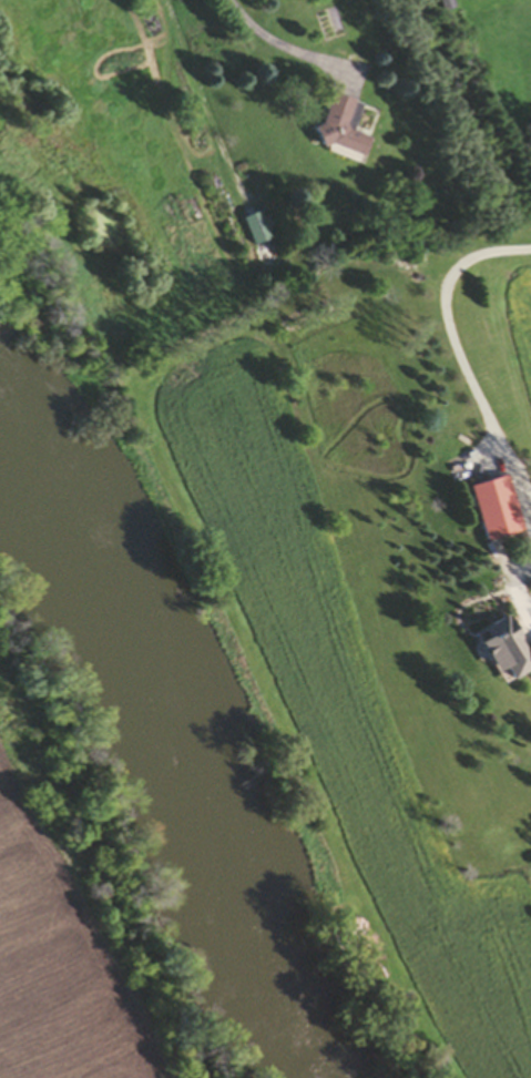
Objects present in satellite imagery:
building: (447, 4)
road: (280, 50)
building: (341, 129)
building: (254, 231)
road: (450, 328)
building: (494, 510)
building: (504, 653)
river: (156, 755)

